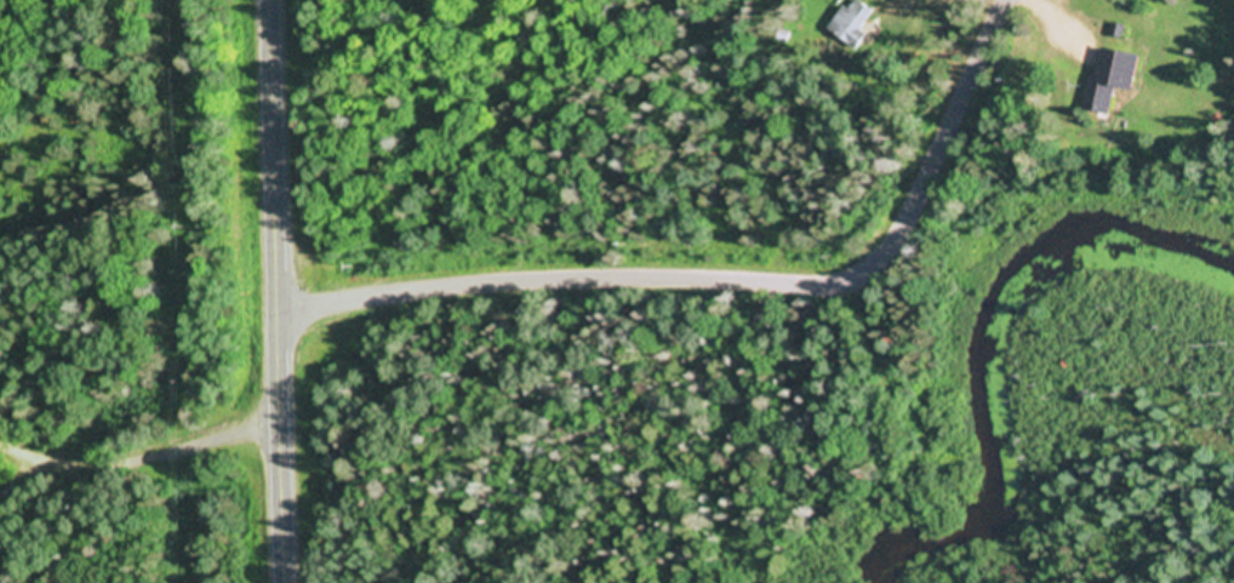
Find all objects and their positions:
building: (855, 21)
road: (727, 276)
road: (281, 291)
river: (998, 362)
road: (141, 379)

